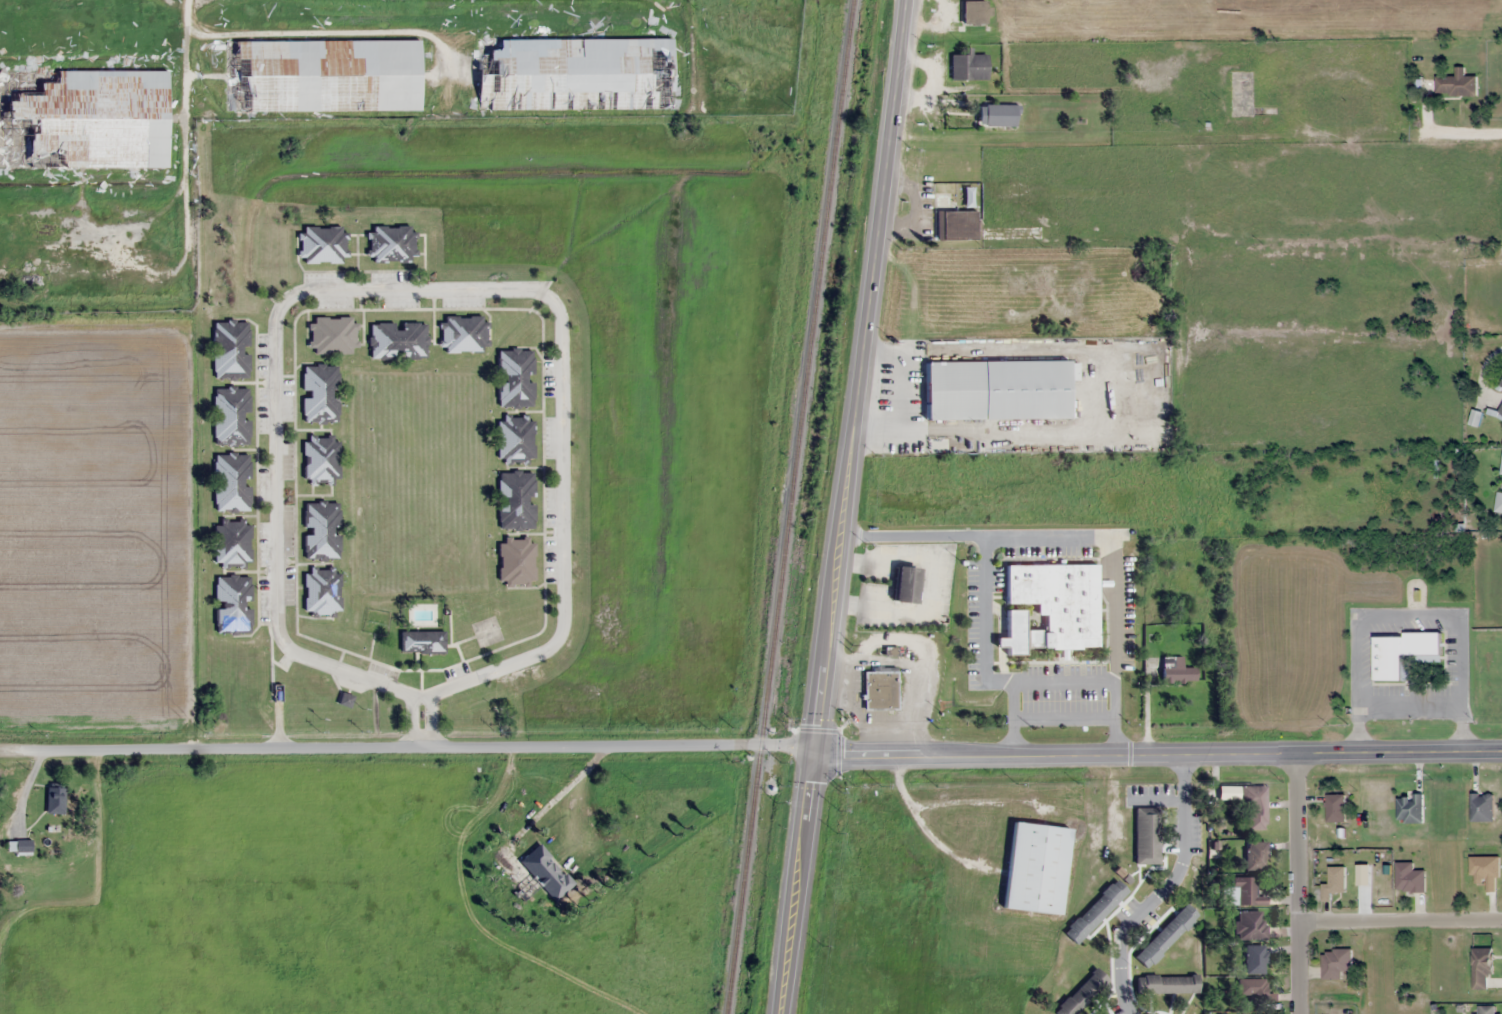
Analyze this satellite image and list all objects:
building: (973, 12)
railway: (838, 49)
building: (968, 65)
building: (573, 73)
building: (321, 75)
building: (1456, 84)
building: (996, 114)
building: (82, 118)
road: (187, 124)
building: (955, 224)
building: (390, 243)
building: (321, 244)
road: (440, 290)
building: (462, 333)
building: (1129, 333)
building: (330, 334)
building: (397, 340)
building: (230, 349)
building: (514, 378)
building: (1501, 384)
building: (997, 389)
building: (319, 393)
building: (1500, 412)
building: (230, 416)
building: (515, 437)
building: (320, 459)
building: (1501, 468)
building: (231, 482)
building: (515, 500)
building: (1498, 503)
railway: (789, 506)
road: (841, 506)
building: (320, 530)
building: (231, 542)
building: (515, 560)
building: (905, 584)
building: (321, 589)
building: (1058, 600)
building: (232, 604)
building: (421, 641)
building: (1402, 654)
building: (1176, 669)
building: (880, 690)
road: (417, 741)
road: (10, 743)
traffic signals: (813, 753)
road: (1157, 757)
building: (54, 799)
building: (1481, 806)
building: (1254, 807)
building: (1335, 808)
building: (1409, 808)
building: (1146, 835)
building: (18, 845)
building: (1255, 855)
building: (1036, 868)
building: (1485, 871)
building: (543, 873)
building: (1409, 878)
building: (1333, 882)
road: (1299, 886)
building: (1245, 891)
road: (1165, 892)
building: (1094, 911)
building: (1251, 925)
building: (1165, 935)
building: (1255, 959)
building: (1336, 963)
building: (1481, 969)
building: (1166, 983)
building: (1253, 989)
building: (1082, 993)
building: (1488, 1009)

